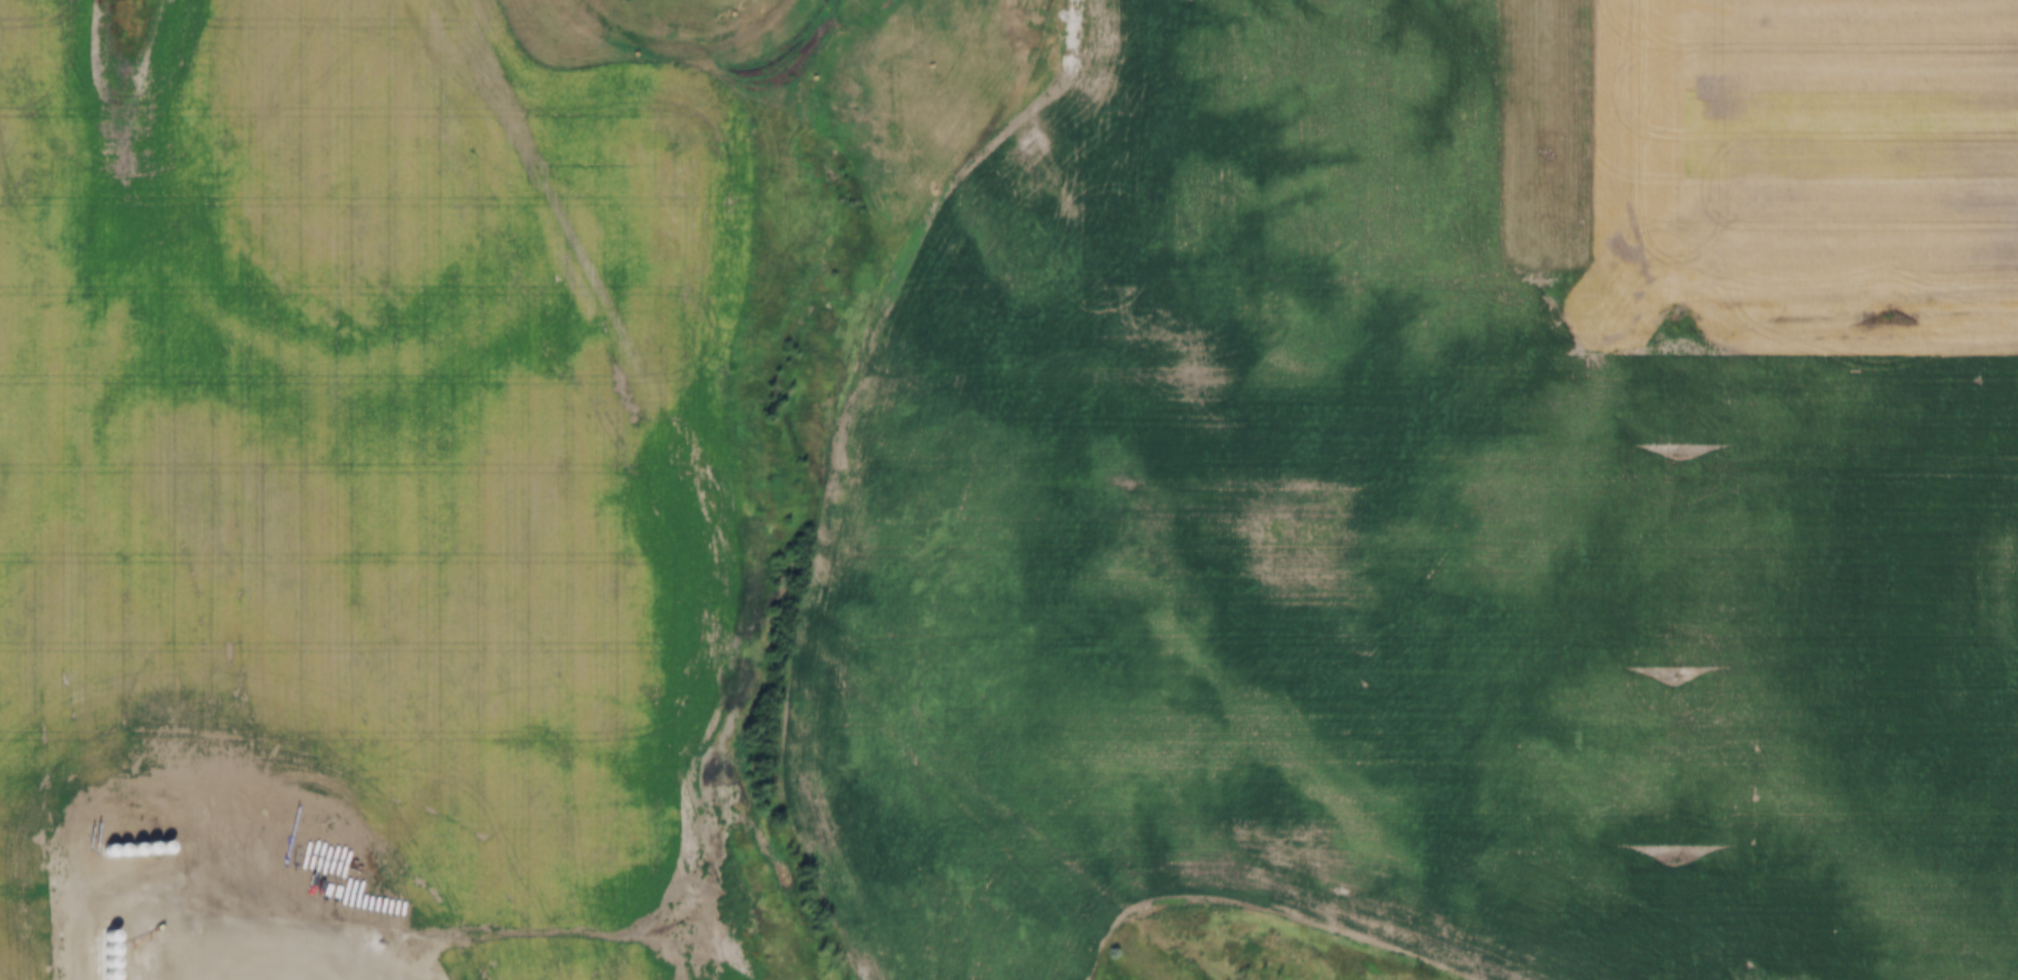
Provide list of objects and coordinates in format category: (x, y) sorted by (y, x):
airport runway: (1537, 129)
airport: (1537, 149)
building: (140, 848)
silo: (140, 848)
building: (154, 848)
silo: (154, 848)
building: (100, 849)
silo: (100, 849)
building: (113, 849)
silo: (113, 849)
building: (127, 849)
silo: (127, 849)
building: (97, 937)
silo: (97, 937)
road: (173, 947)
building: (97, 951)
silo: (97, 951)
building: (97, 964)
silo: (97, 964)
building: (97, 975)
silo: (97, 975)

